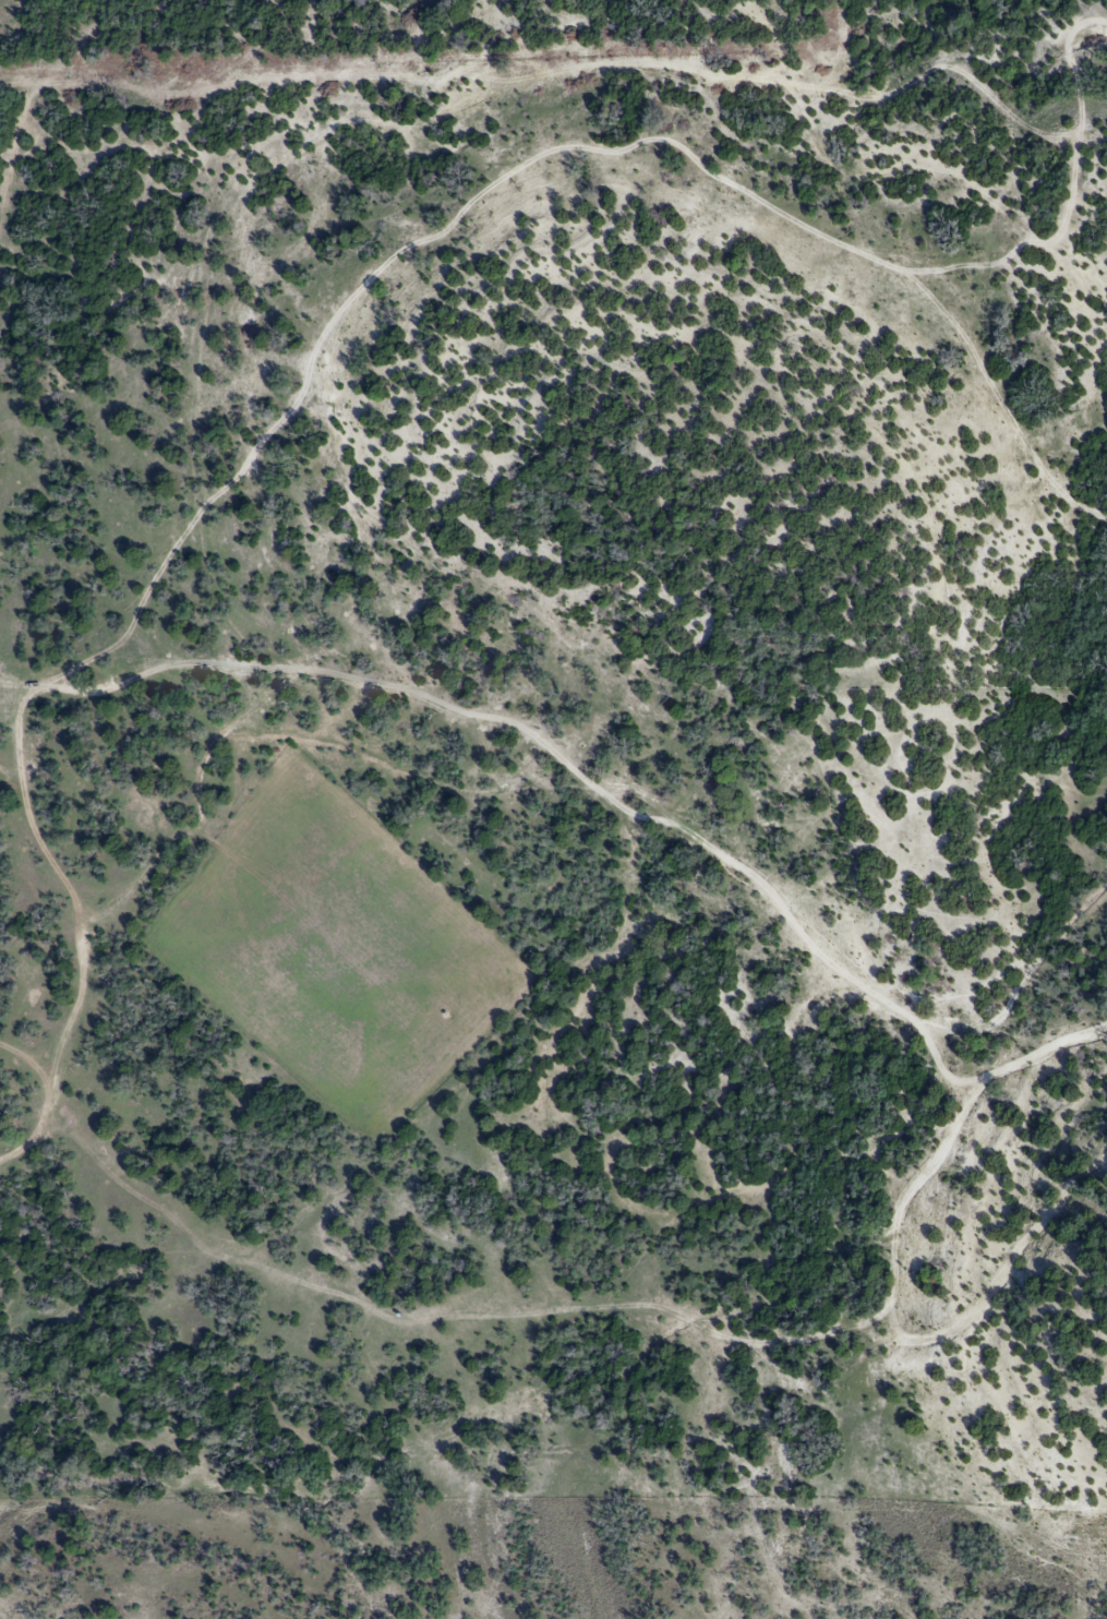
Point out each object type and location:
road: (792, 1168)

